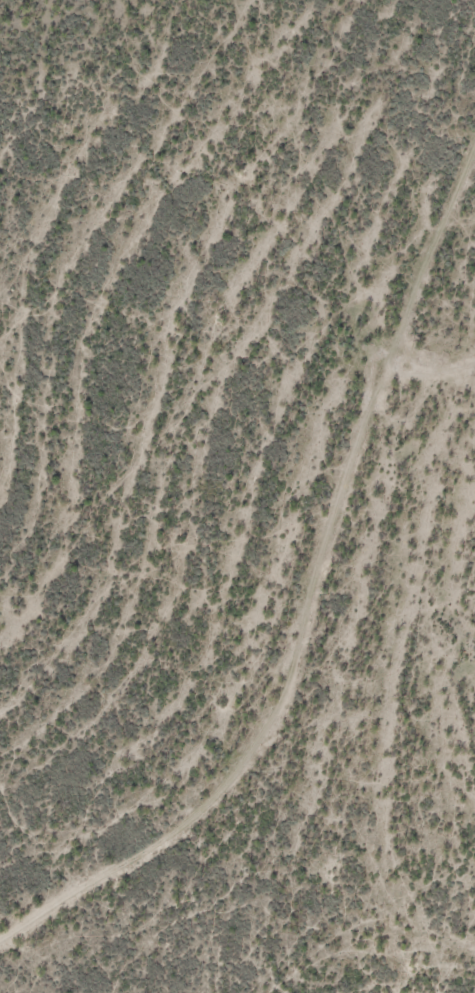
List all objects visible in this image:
road: (314, 604)

